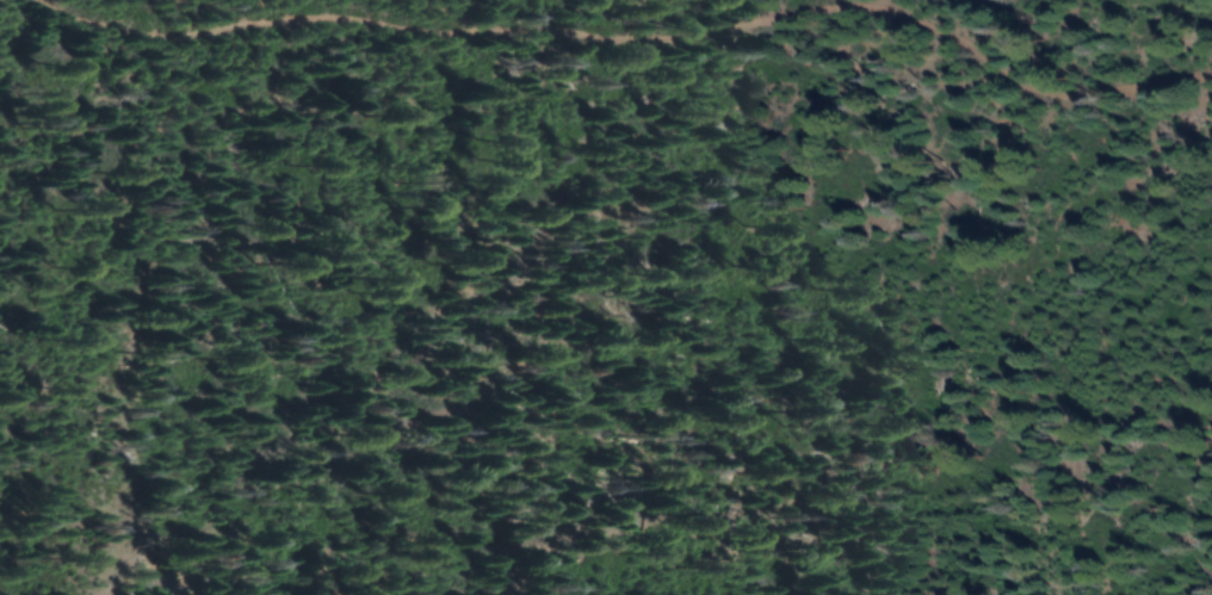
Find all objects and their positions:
road: (627, 39)

